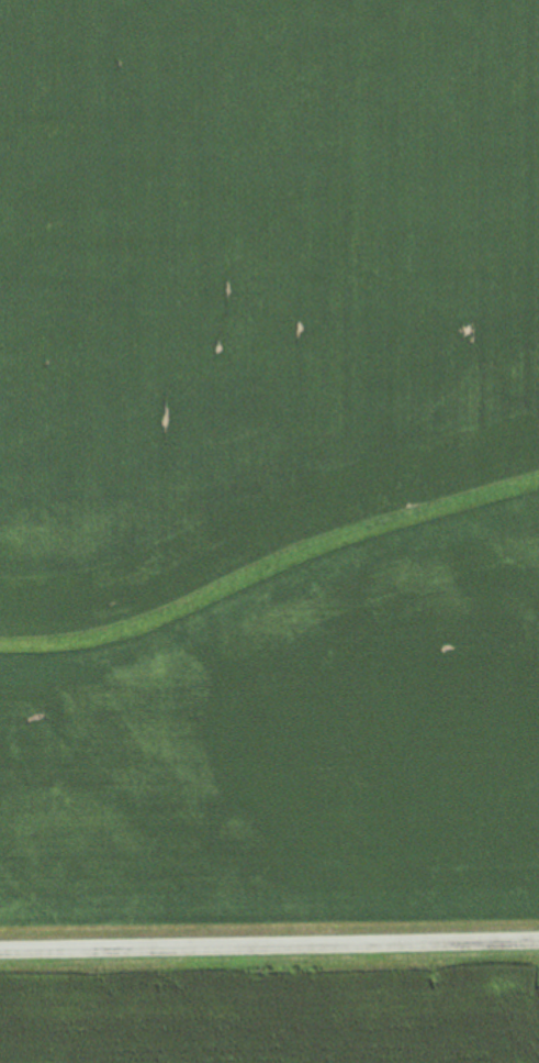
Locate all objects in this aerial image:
road: (269, 945)

